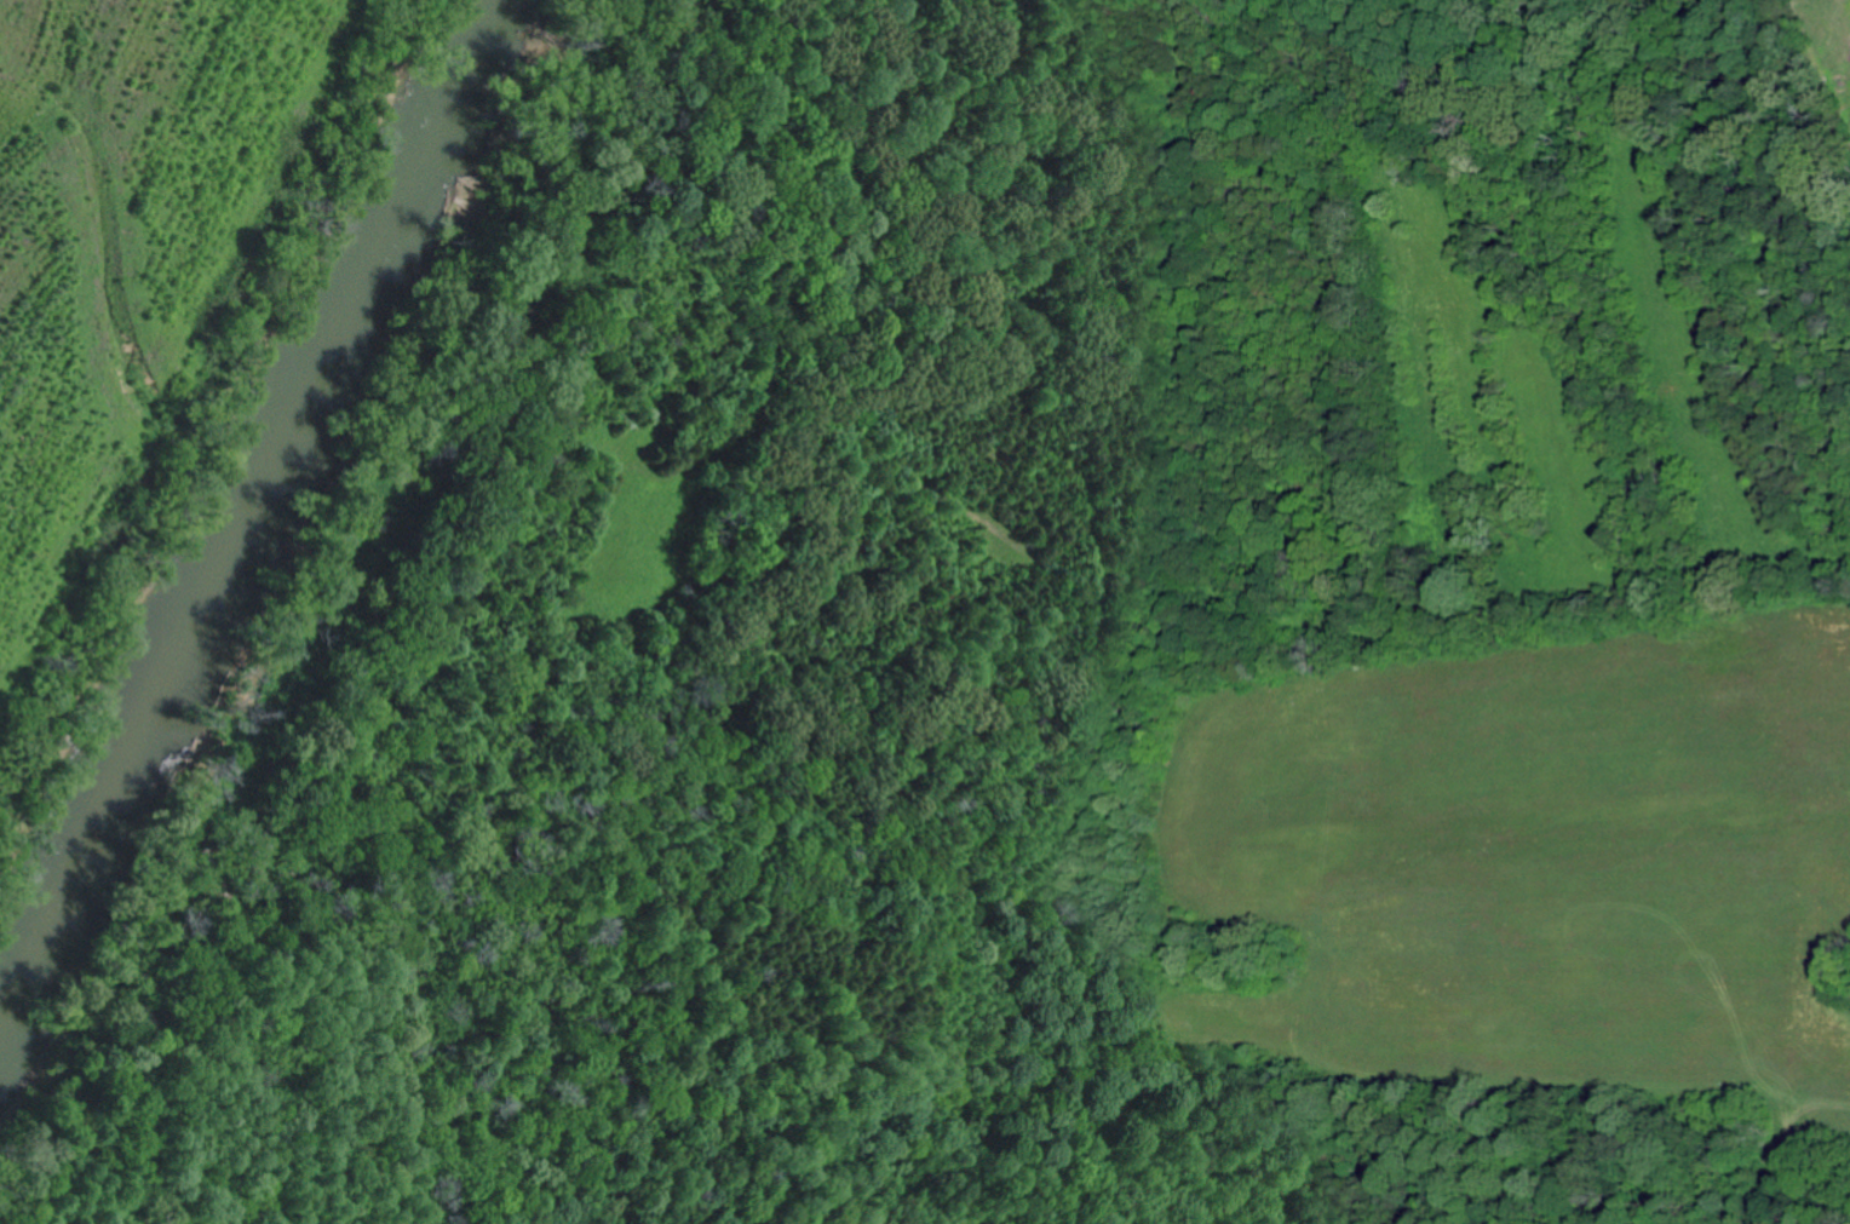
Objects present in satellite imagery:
river: (254, 472)

